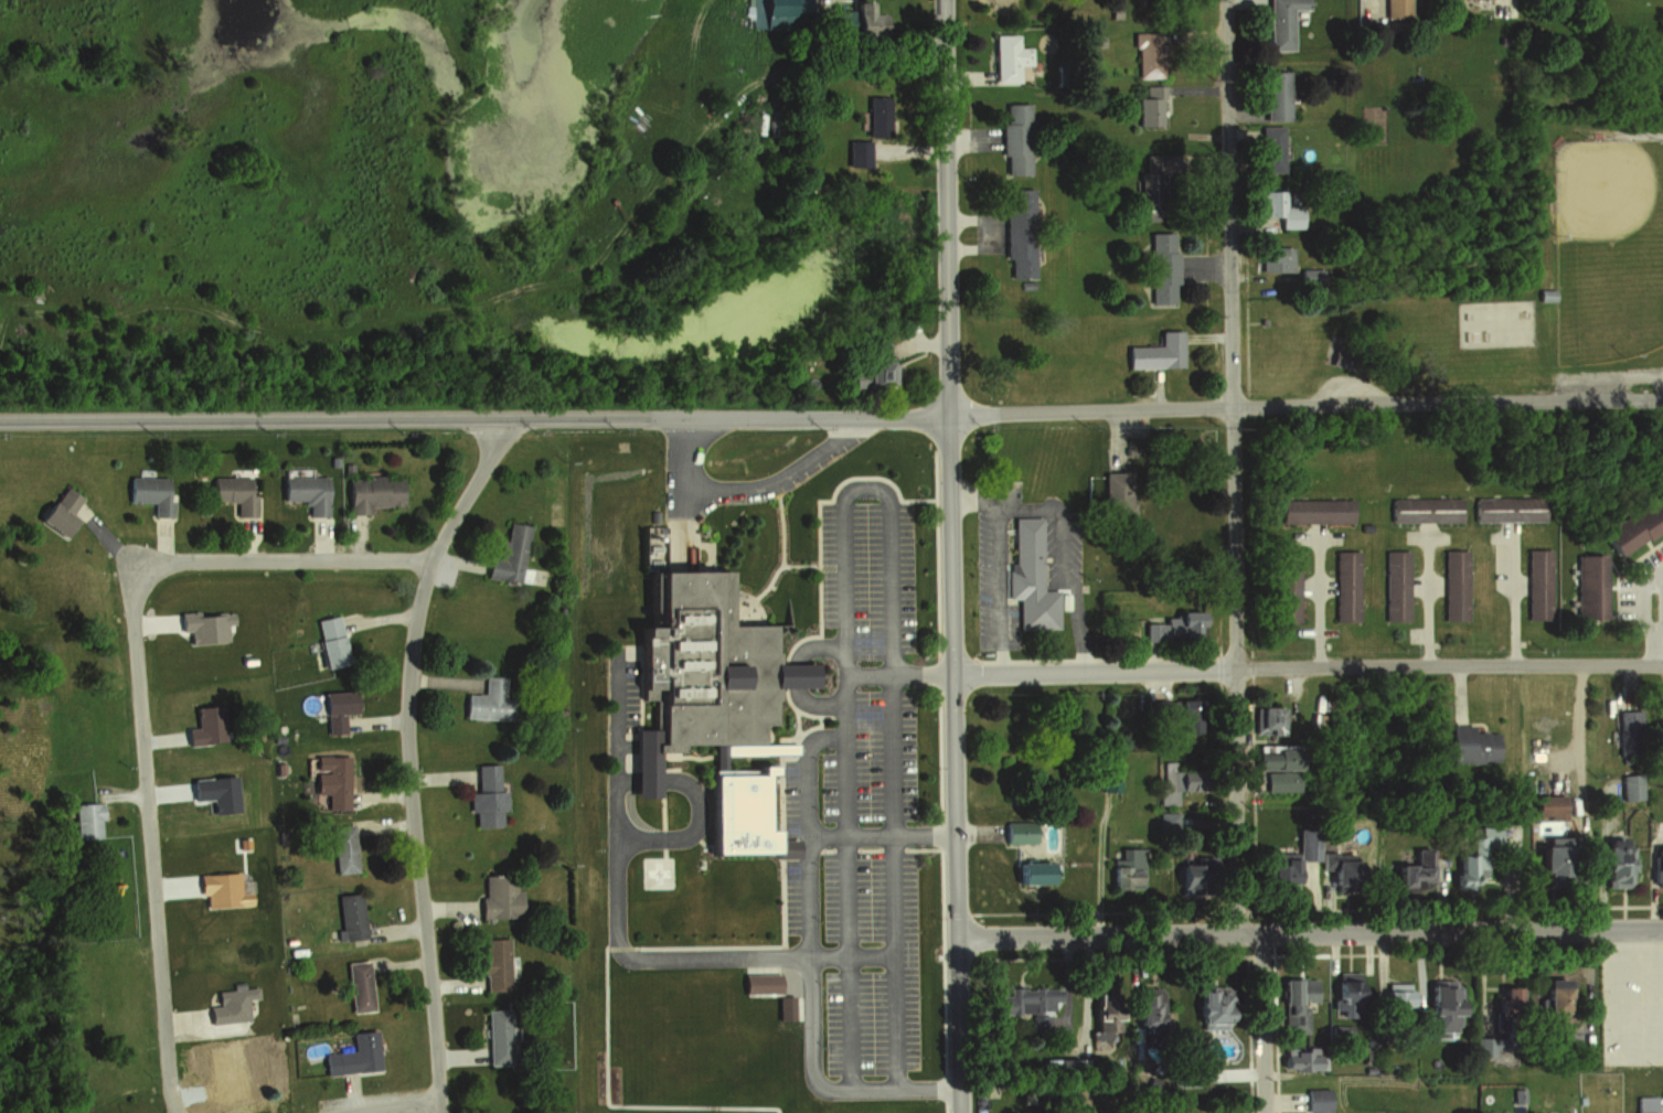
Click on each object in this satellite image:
building: (1393, 8)
building: (770, 11)
building: (849, 17)
building: (1279, 22)
building: (1145, 54)
building: (1004, 56)
building: (1271, 94)
building: (1149, 107)
building: (871, 115)
building: (1013, 138)
building: (854, 149)
building: (1268, 149)
building: (1166, 173)
building: (1277, 206)
building: (1019, 233)
park: (1598, 255)
building: (1270, 258)
building: (1161, 268)
building: (1307, 276)
building: (1546, 296)
building: (1154, 352)
building: (872, 366)
road: (1304, 405)
road: (473, 418)
building: (332, 458)
building: (347, 464)
road: (1234, 465)
building: (200, 469)
road: (754, 488)
road: (865, 488)
building: (369, 489)
building: (305, 491)
building: (147, 492)
building: (233, 492)
building: (1115, 495)
road: (976, 500)
building: (58, 510)
building: (1426, 511)
building: (1510, 511)
building: (1316, 512)
building: (1631, 522)
road: (355, 539)
road: (163, 541)
road: (323, 542)
road: (248, 543)
road: (780, 545)
road: (116, 549)
building: (504, 552)
road: (949, 556)
road: (1069, 559)
road: (300, 560)
road: (457, 561)
road: (797, 561)
building: (521, 572)
building: (1028, 577)
parking lot: (868, 578)
building: (1539, 585)
building: (1456, 586)
building: (1287, 587)
building: (1346, 587)
building: (1397, 587)
building: (1585, 587)
road: (998, 595)
road: (1514, 597)
road: (1429, 601)
road: (1321, 603)
road: (381, 617)
road: (152, 621)
building: (202, 623)
road: (814, 628)
building: (1171, 628)
building: (327, 639)
road: (1653, 642)
building: (246, 656)
road: (1307, 667)
road: (790, 672)
road: (896, 674)
road: (441, 677)
building: (705, 698)
building: (487, 702)
building: (333, 705)
building: (1662, 709)
road: (377, 715)
building: (1183, 715)
building: (1266, 719)
road: (795, 723)
building: (203, 724)
building: (277, 726)
road: (159, 737)
building: (276, 737)
building: (1467, 745)
road: (407, 758)
parking lot: (875, 761)
building: (277, 767)
building: (1275, 772)
road: (439, 775)
building: (328, 777)
building: (1105, 779)
building: (1171, 781)
building: (1630, 786)
road: (166, 789)
building: (215, 791)
road: (128, 792)
building: (484, 795)
road: (385, 796)
road: (696, 805)
building: (1546, 815)
building: (81, 817)
building: (1165, 821)
road: (384, 823)
road: (149, 831)
road: (878, 832)
building: (1015, 832)
building: (241, 842)
building: (340, 845)
building: (1472, 856)
building: (1286, 859)
building: (1544, 859)
building: (1610, 863)
building: (1655, 866)
helipad: (655, 870)
building: (1333, 870)
building: (1407, 871)
building: (1031, 873)
building: (1181, 874)
road: (173, 885)
building: (224, 888)
building: (498, 896)
road: (447, 907)
building: (348, 913)
road: (396, 928)
road: (1308, 932)
building: (287, 938)
road: (619, 938)
road: (776, 946)
road: (622, 949)
building: (296, 950)
road: (399, 961)
parking lot: (873, 962)
building: (493, 964)
road: (807, 964)
building: (763, 982)
building: (358, 983)
road: (454, 983)
building: (1341, 994)
building: (1500, 996)
building: (1025, 999)
building: (230, 1000)
building: (1292, 1004)
building: (1545, 1004)
building: (1143, 1005)
building: (1390, 1006)
building: (1204, 1008)
building: (1433, 1010)
building: (1100, 1017)
road: (1260, 1023)
road: (203, 1028)
building: (495, 1036)
building: (353, 1052)
road: (458, 1057)
building: (1292, 1060)
building: (1181, 1075)
road: (348, 1095)
building: (1313, 1100)
road: (394, 1103)
building: (1642, 1104)
road: (616, 1106)

